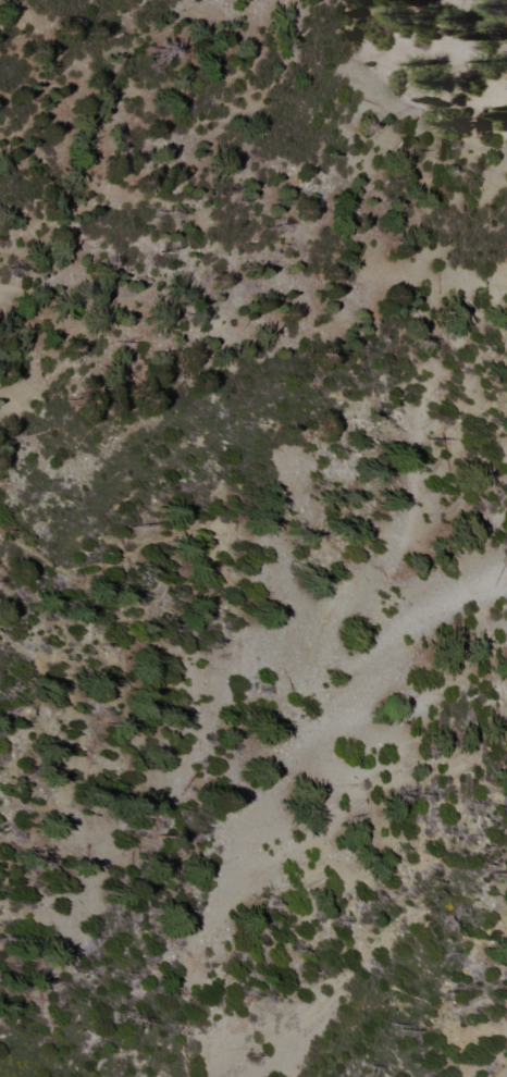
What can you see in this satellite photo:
road: (309, 545)

